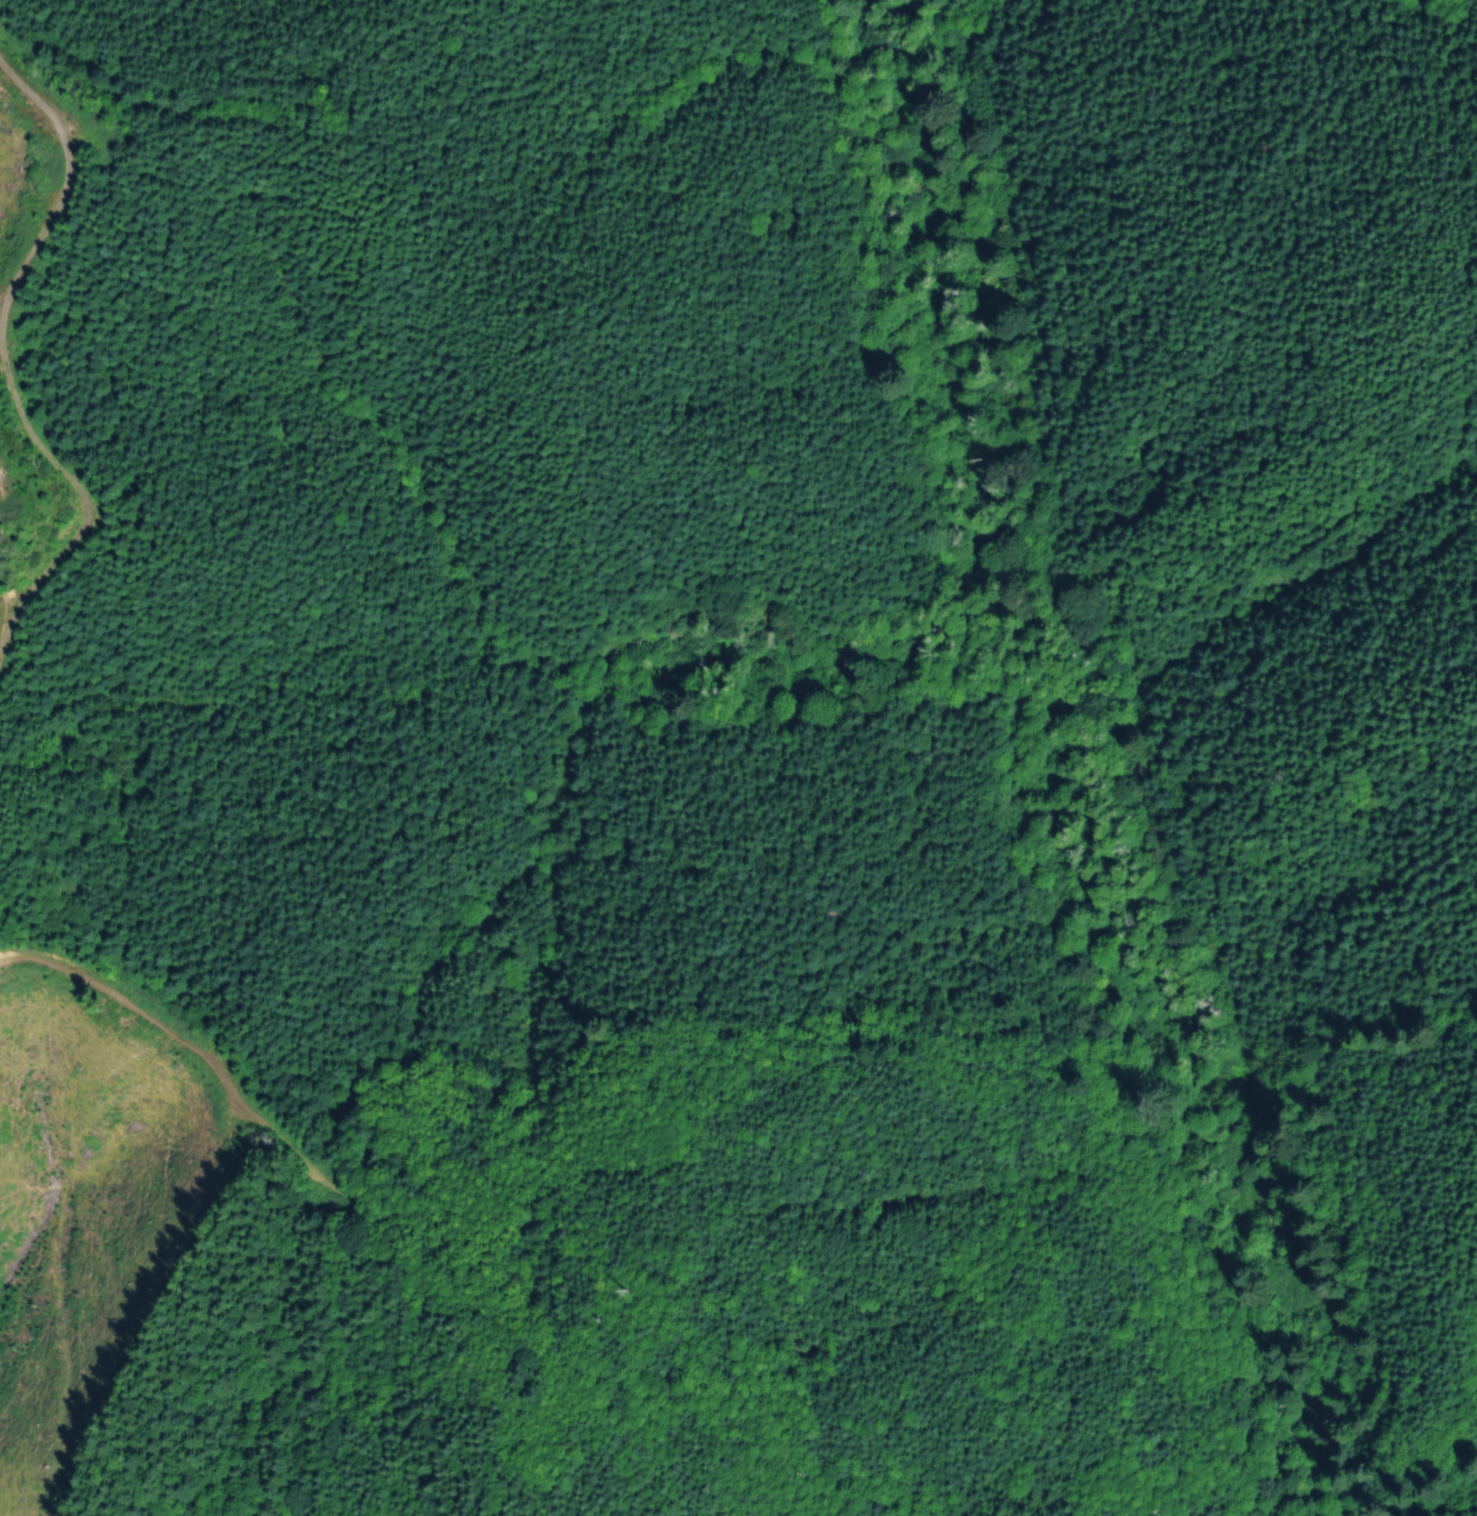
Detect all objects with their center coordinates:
road: (43, 119)
road: (20, 470)
road: (113, 950)

